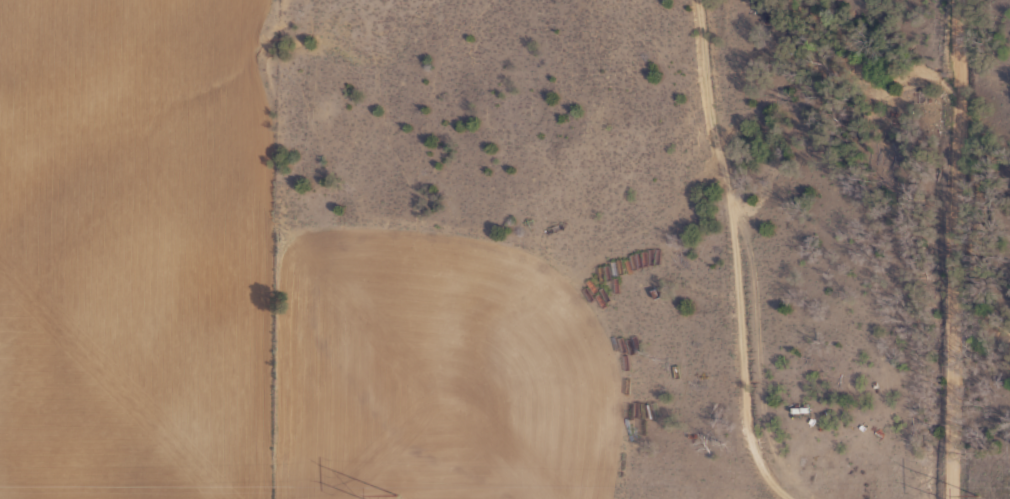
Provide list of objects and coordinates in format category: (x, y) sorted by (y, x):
crop: (505, 249)
road: (958, 249)
road: (713, 252)

